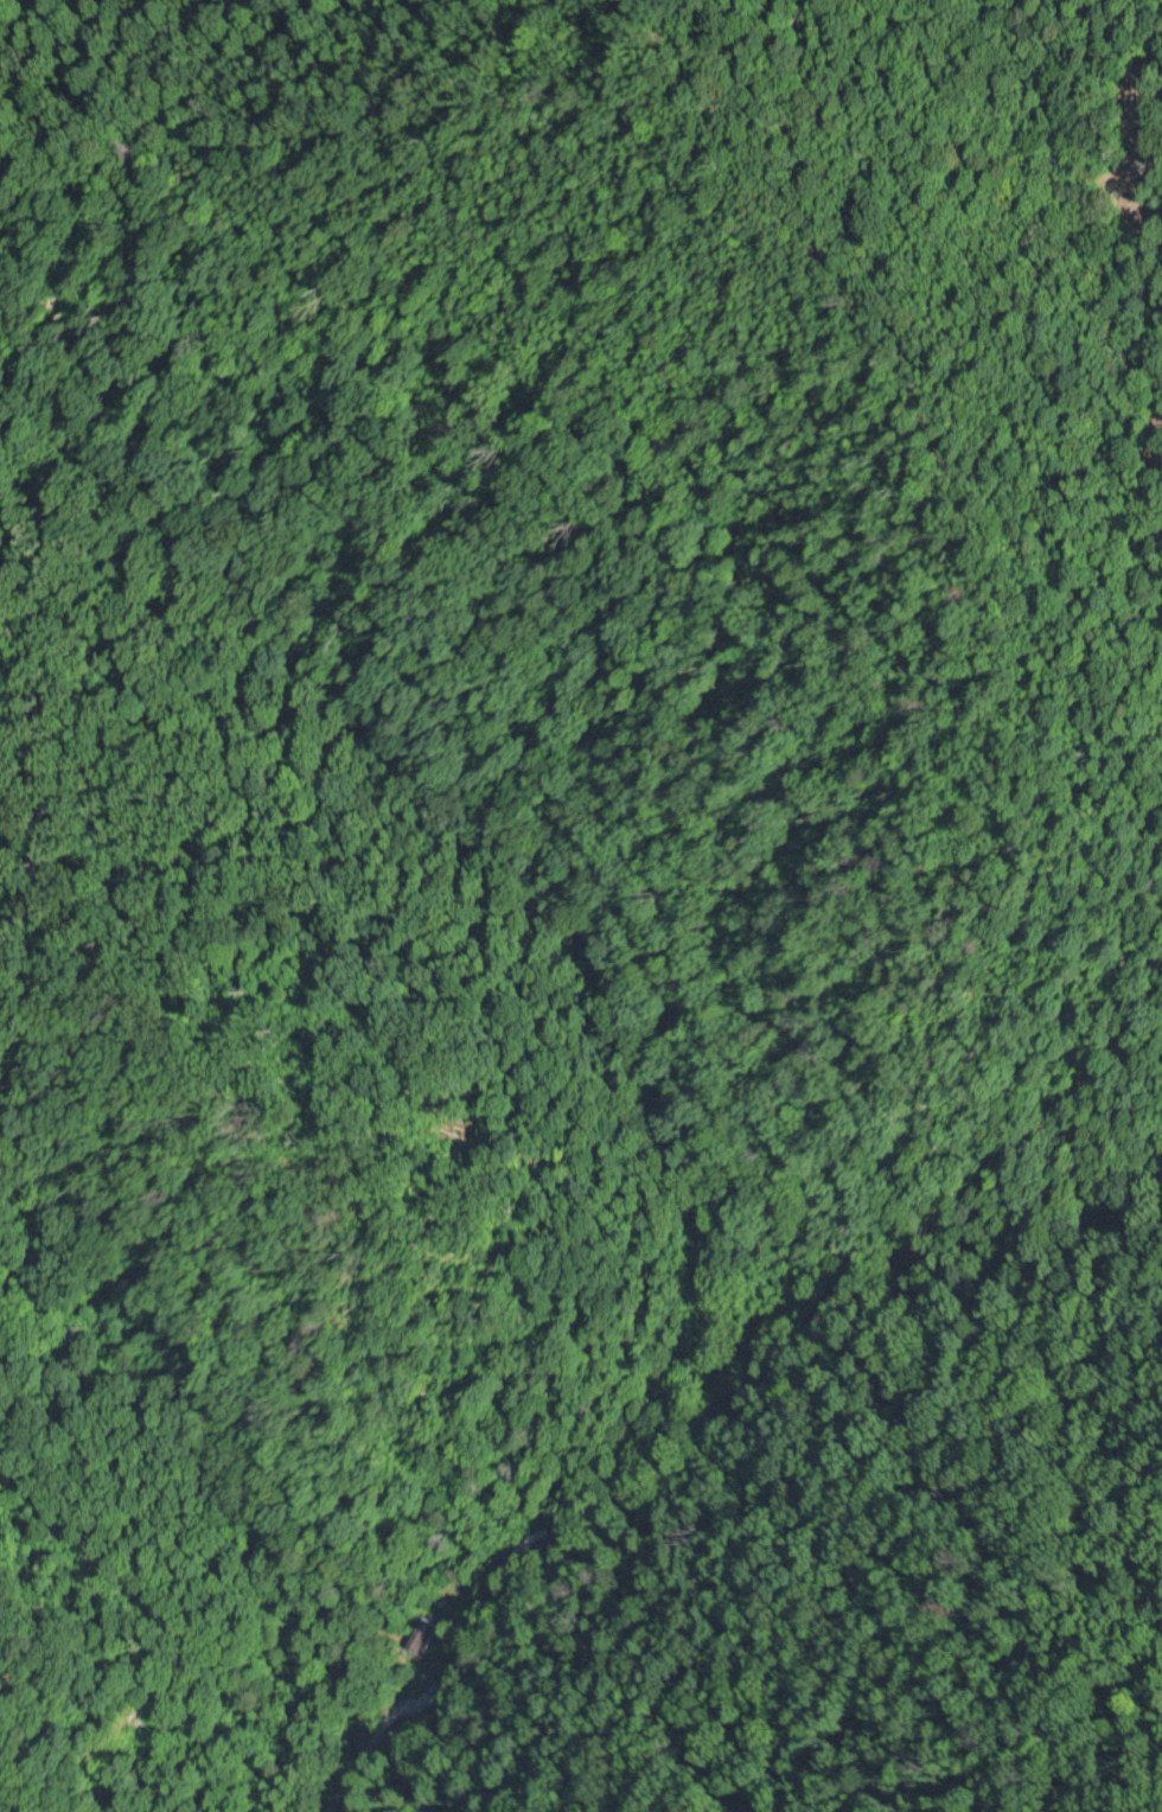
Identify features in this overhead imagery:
road: (346, 1780)

